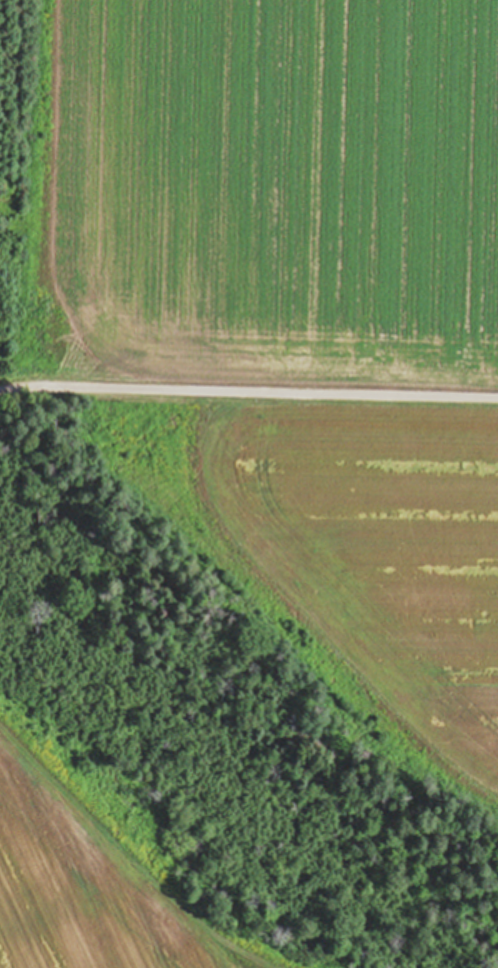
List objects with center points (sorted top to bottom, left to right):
road: (248, 389)

